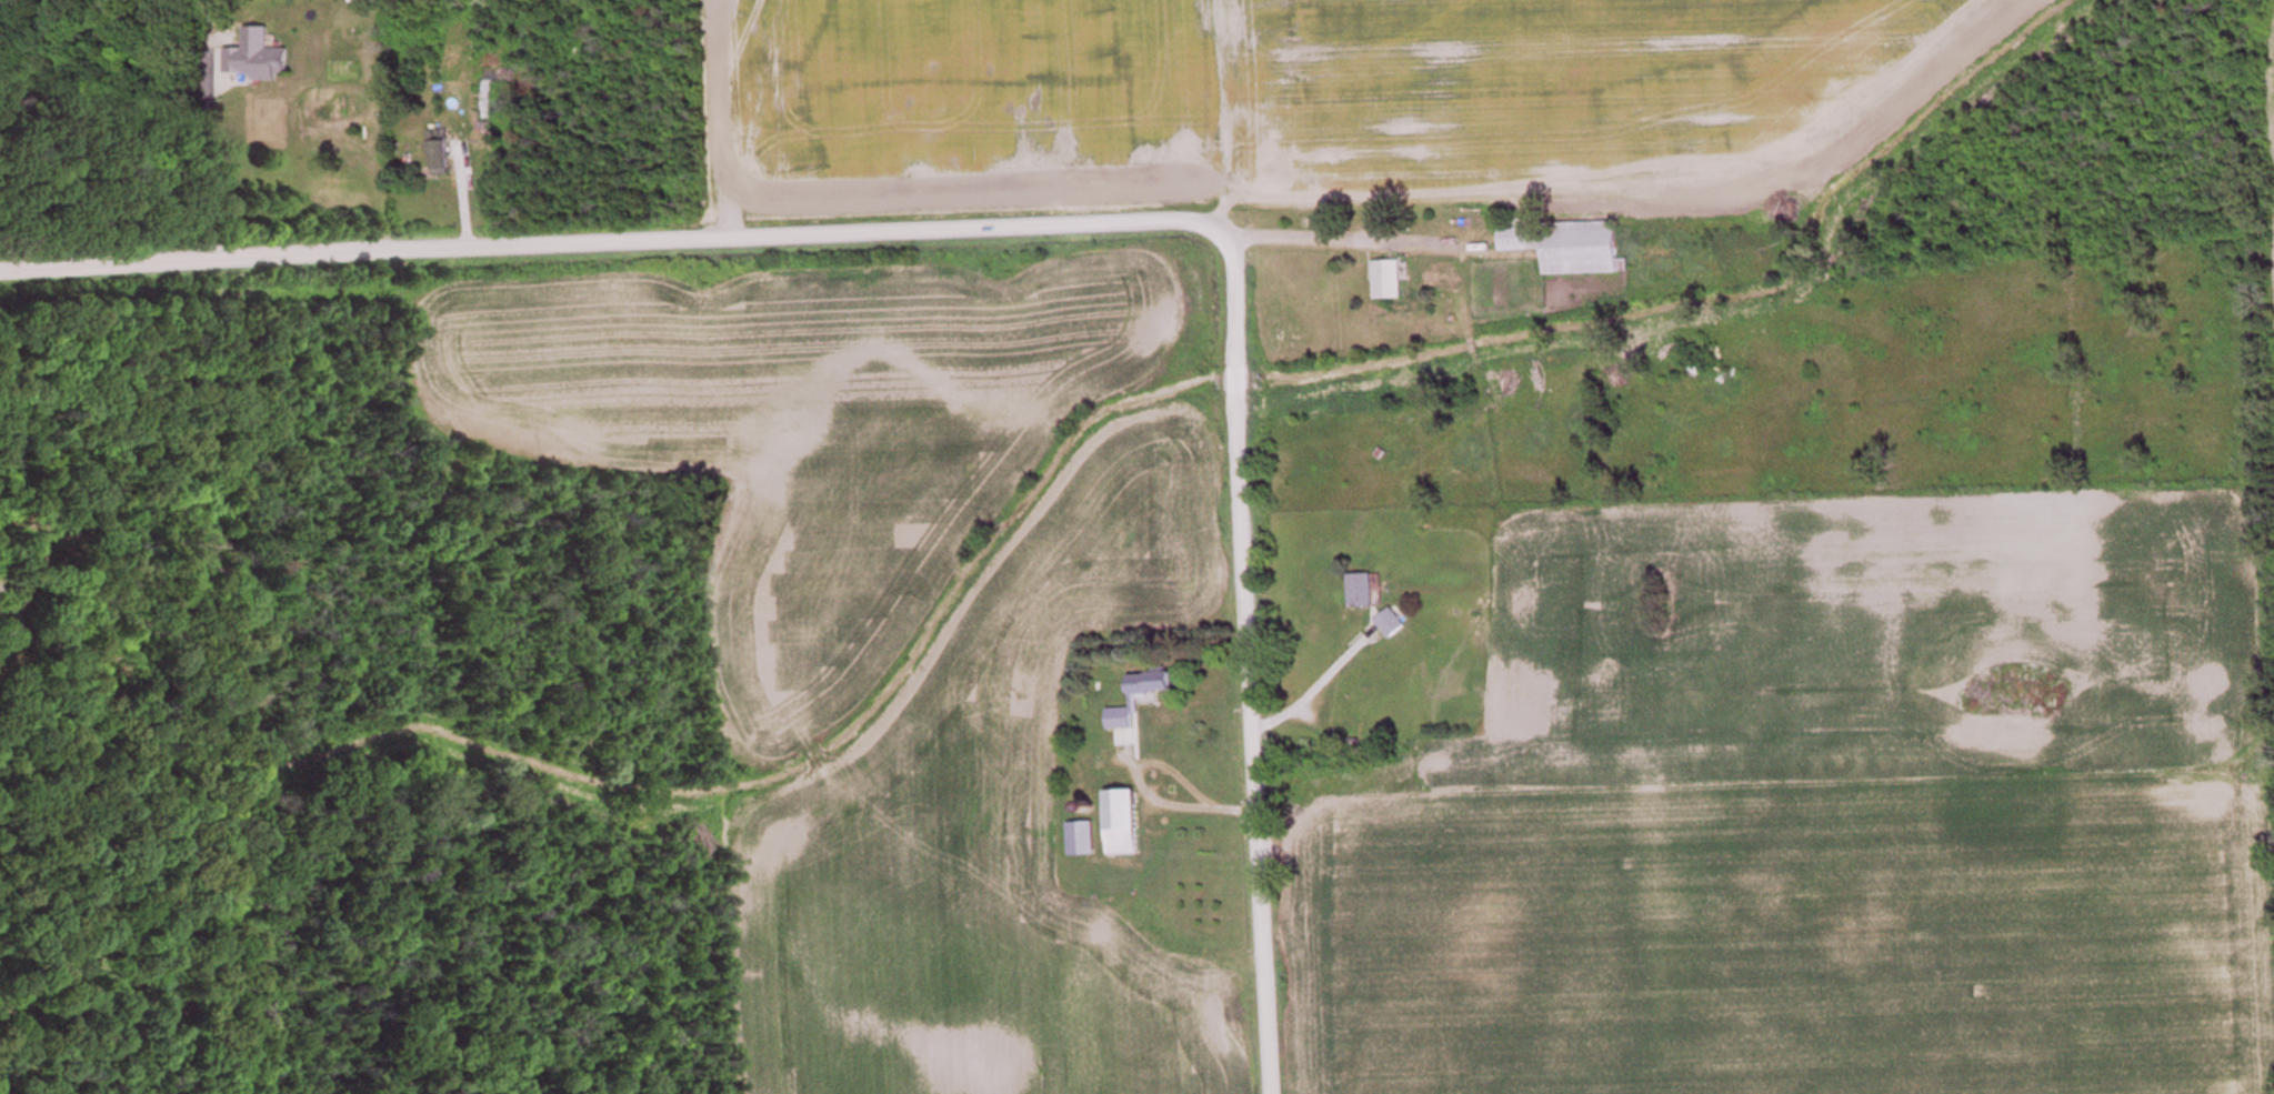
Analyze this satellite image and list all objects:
building: (258, 60)
building: (488, 130)
building: (441, 154)
road: (1039, 227)
road: (1353, 239)
building: (1567, 247)
building: (1389, 282)
building: (1362, 593)
building: (1392, 624)
building: (1140, 697)
building: (1123, 823)
building: (1083, 840)

